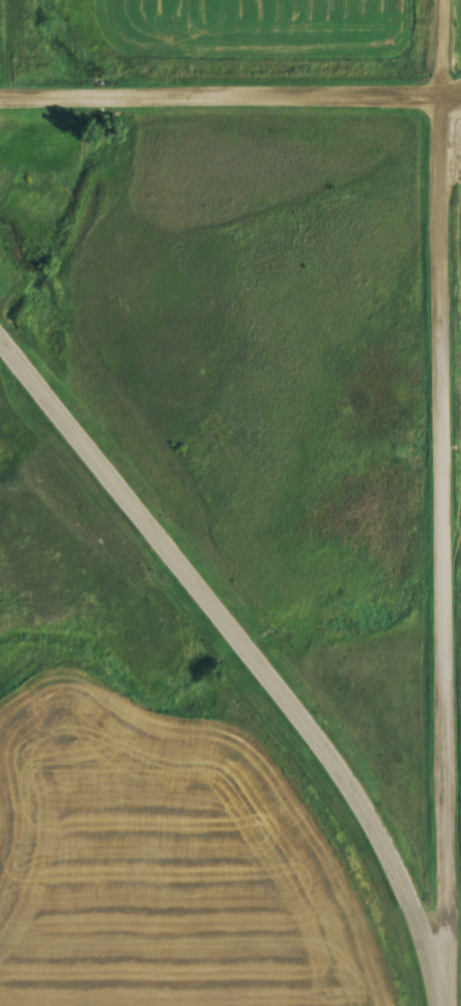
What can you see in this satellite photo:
road: (230, 104)
road: (452, 502)
road: (252, 654)

